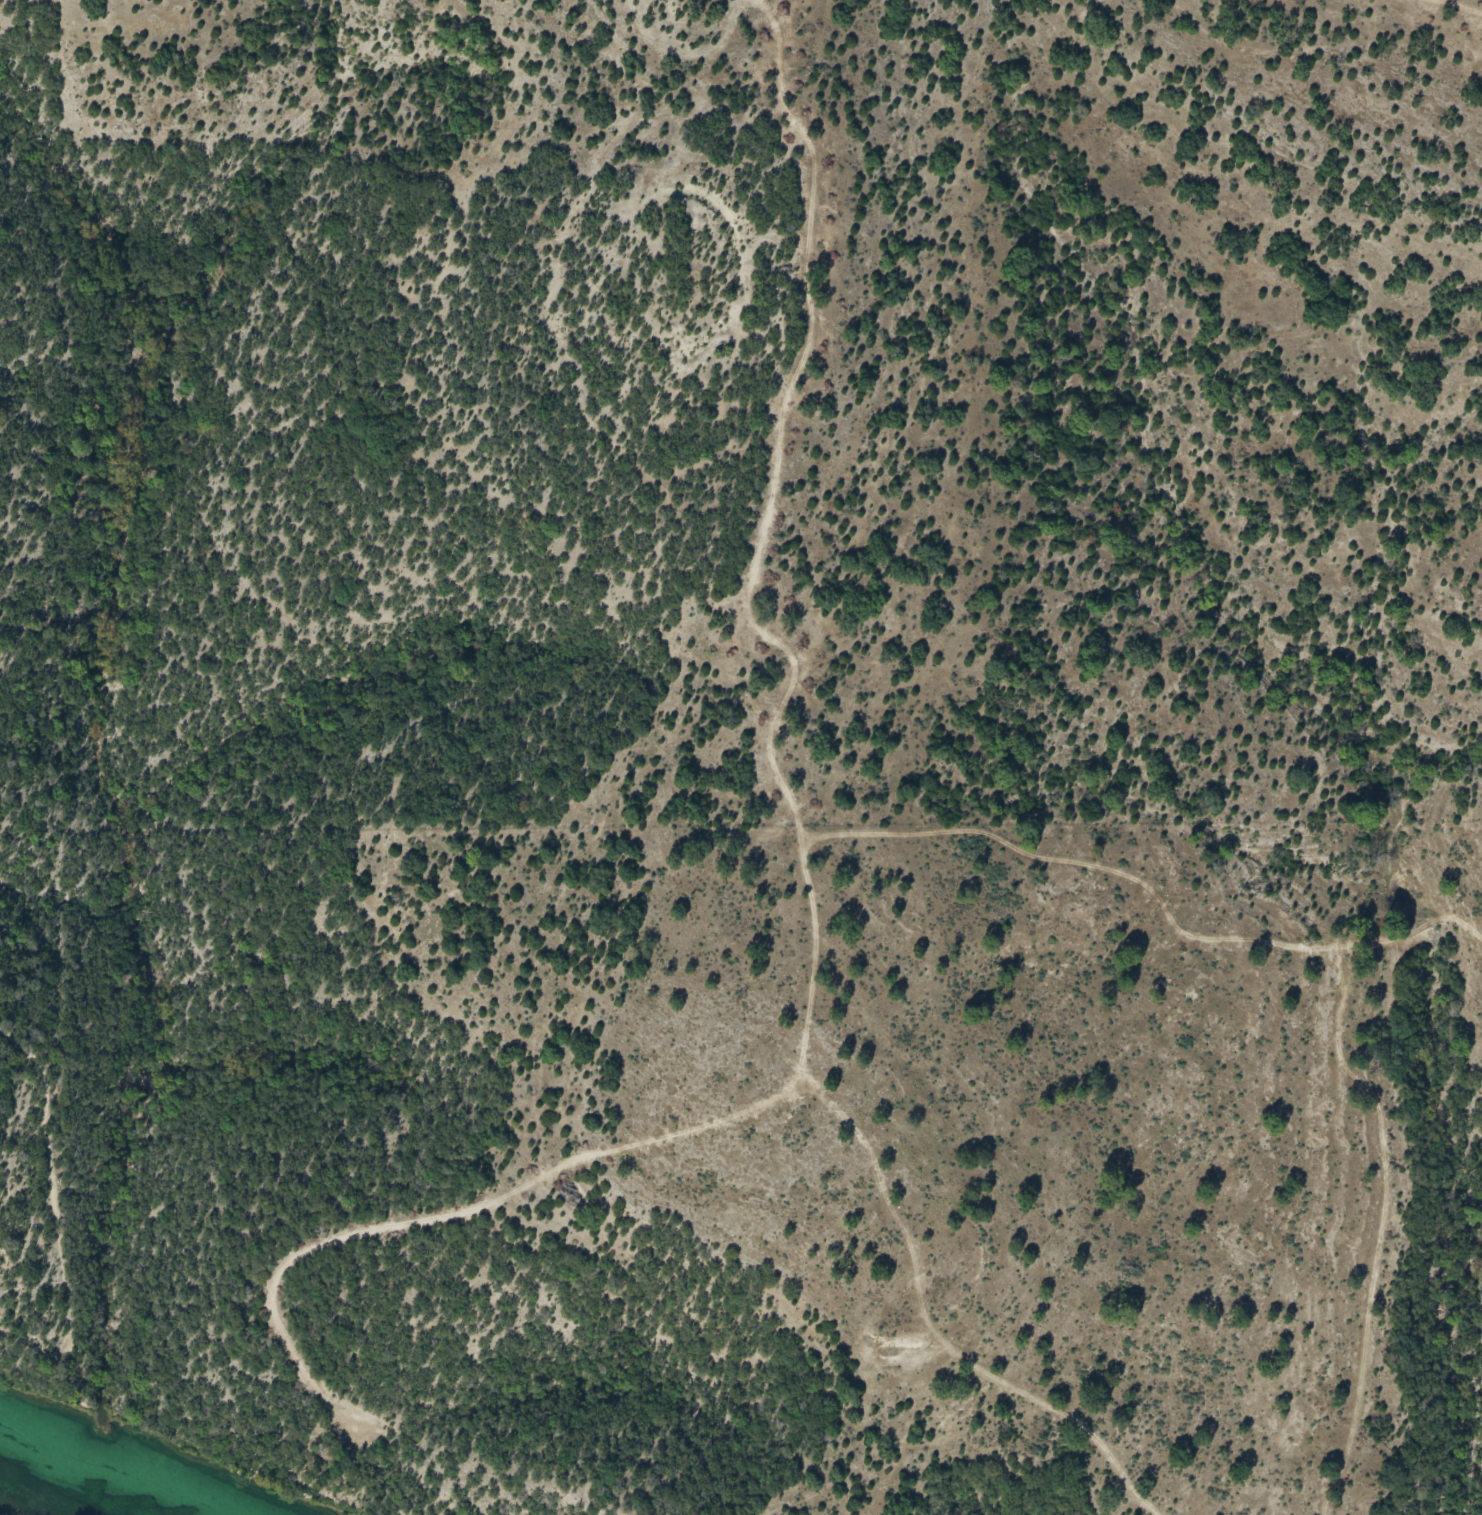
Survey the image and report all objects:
road: (701, 34)
road: (743, 806)
road: (1102, 910)
road: (1281, 1237)
river: (82, 1477)

